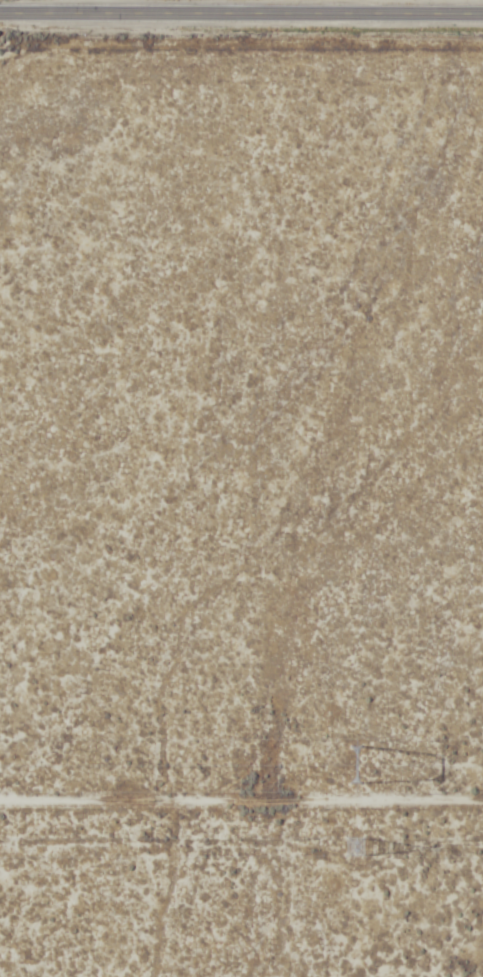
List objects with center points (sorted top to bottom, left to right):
road: (241, 12)
power tower: (369, 766)
power tower: (367, 850)

